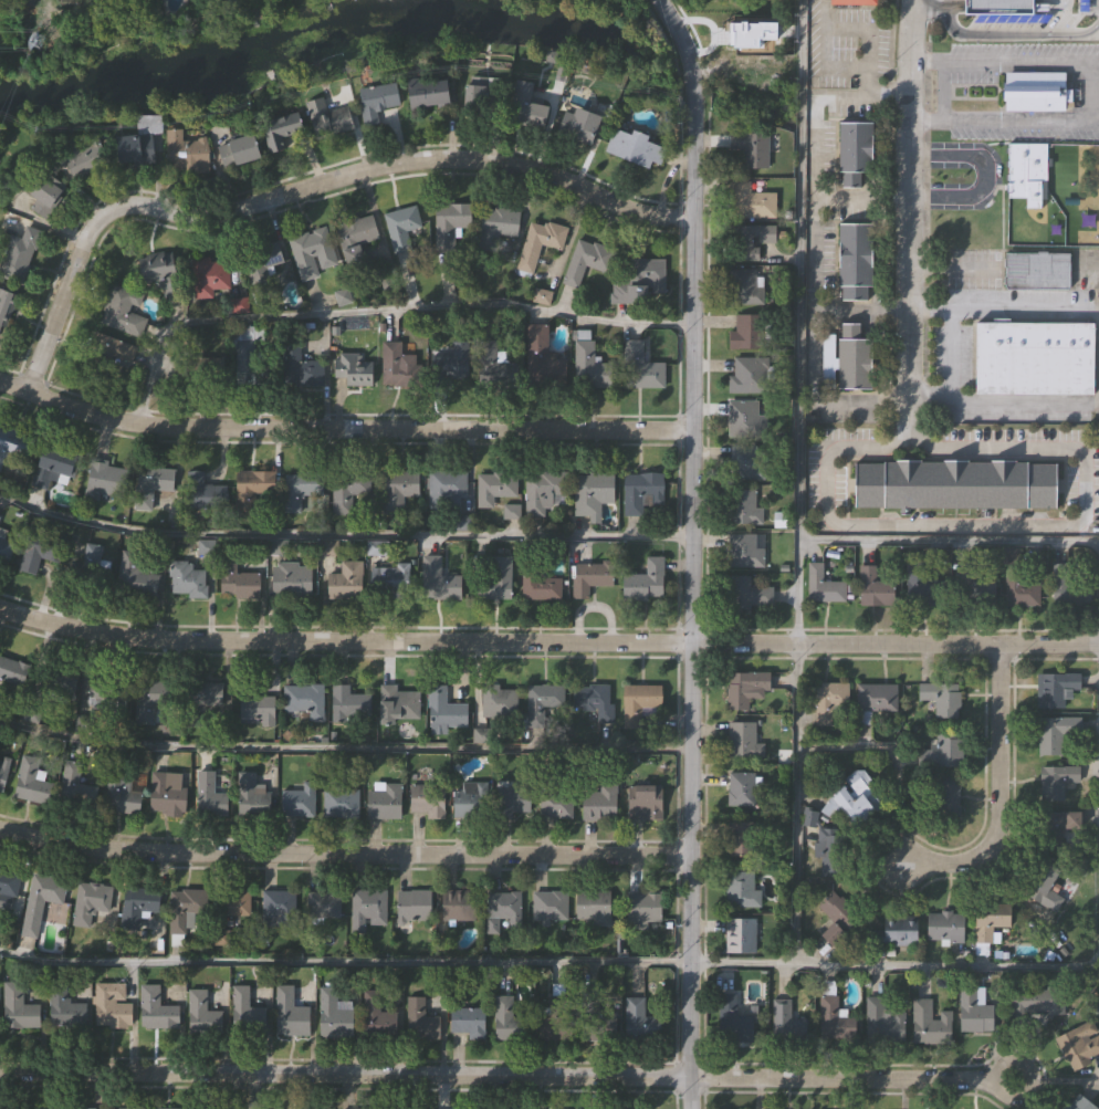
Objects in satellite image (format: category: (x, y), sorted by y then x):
building: (854, 1)
building: (998, 6)
building: (751, 24)
road: (864, 29)
road: (823, 33)
road: (1003, 34)
road: (1019, 54)
road: (866, 80)
building: (1036, 90)
building: (431, 92)
building: (482, 100)
building: (377, 101)
building: (527, 107)
road: (1006, 116)
building: (328, 118)
building: (579, 126)
building: (283, 132)
building: (754, 147)
building: (636, 148)
building: (137, 149)
building: (855, 150)
building: (187, 151)
building: (241, 151)
building: (87, 158)
road: (980, 165)
building: (1026, 170)
road: (306, 186)
building: (45, 197)
road: (861, 199)
building: (751, 200)
road: (908, 210)
building: (452, 221)
building: (499, 221)
building: (401, 227)
building: (357, 238)
building: (749, 239)
building: (538, 243)
building: (313, 253)
building: (19, 255)
building: (587, 260)
building: (854, 260)
road: (814, 269)
building: (1037, 269)
building: (261, 271)
building: (161, 273)
building: (210, 276)
building: (640, 282)
building: (745, 285)
building: (6, 306)
road: (860, 308)
road: (383, 310)
building: (123, 311)
road: (798, 321)
building: (745, 331)
building: (112, 348)
road: (950, 353)
building: (1035, 356)
building: (542, 357)
building: (854, 357)
building: (453, 363)
building: (252, 365)
building: (496, 365)
building: (299, 367)
building: (592, 367)
building: (640, 367)
building: (353, 370)
building: (405, 370)
building: (213, 373)
building: (746, 374)
building: (742, 418)
road: (344, 426)
building: (14, 444)
building: (745, 461)
building: (54, 465)
building: (106, 480)
building: (153, 482)
building: (953, 484)
building: (494, 487)
building: (252, 488)
building: (302, 488)
building: (447, 488)
building: (354, 490)
building: (397, 490)
building: (544, 490)
building: (641, 491)
building: (593, 492)
building: (210, 496)
building: (742, 505)
building: (0, 519)
road: (994, 526)
road: (342, 534)
road: (950, 540)
building: (4, 545)
building: (743, 550)
building: (41, 551)
road: (690, 551)
building: (95, 567)
building: (136, 576)
building: (494, 576)
building: (590, 576)
building: (187, 578)
building: (237, 578)
building: (293, 579)
building: (390, 579)
building: (346, 580)
building: (646, 580)
building: (439, 582)
building: (538, 582)
building: (824, 585)
building: (923, 587)
building: (875, 588)
building: (1069, 588)
building: (974, 590)
building: (1022, 592)
building: (744, 594)
road: (547, 639)
building: (13, 670)
building: (57, 682)
building: (1058, 687)
building: (744, 688)
building: (103, 691)
building: (154, 697)
building: (876, 697)
building: (941, 697)
building: (203, 699)
building: (304, 699)
building: (590, 699)
building: (543, 700)
building: (501, 701)
building: (826, 701)
building: (349, 702)
building: (639, 702)
building: (399, 704)
building: (257, 708)
building: (444, 708)
building: (1056, 732)
building: (740, 739)
road: (343, 740)
building: (942, 751)
building: (3, 774)
building: (1057, 780)
building: (32, 782)
building: (75, 787)
road: (995, 787)
building: (122, 789)
building: (740, 789)
building: (168, 793)
building: (250, 794)
building: (210, 796)
building: (517, 796)
building: (945, 796)
building: (855, 798)
building: (471, 799)
building: (299, 801)
building: (385, 801)
building: (428, 801)
building: (600, 802)
building: (645, 802)
building: (341, 803)
road: (796, 803)
building: (556, 804)
building: (812, 819)
building: (1049, 829)
building: (739, 840)
road: (343, 849)
building: (830, 849)
building: (9, 882)
building: (742, 888)
building: (1045, 888)
building: (42, 901)
building: (238, 901)
building: (90, 902)
building: (414, 904)
building: (460, 904)
building: (551, 904)
building: (138, 906)
building: (593, 906)
building: (645, 906)
building: (186, 907)
building: (323, 907)
building: (279, 908)
building: (367, 908)
building: (502, 910)
building: (837, 919)
building: (988, 923)
building: (944, 924)
building: (897, 930)
building: (743, 932)
road: (343, 962)
road: (892, 964)
building: (1032, 1003)
building: (112, 1005)
building: (18, 1007)
building: (64, 1007)
building: (156, 1008)
building: (973, 1009)
building: (247, 1012)
building: (292, 1012)
building: (202, 1013)
building: (335, 1015)
building: (377, 1015)
building: (835, 1015)
building: (557, 1018)
building: (420, 1019)
building: (733, 1019)
building: (507, 1021)
building: (639, 1021)
building: (885, 1021)
building: (931, 1021)
building: (469, 1022)
building: (788, 1022)
building: (596, 1025)
building: (1079, 1045)
road: (507, 1074)
building: (1080, 1103)
building: (220, 1107)
building: (0, 1108)
building: (29, 1108)
building: (75, 1108)
building: (123, 1108)
building: (169, 1108)

